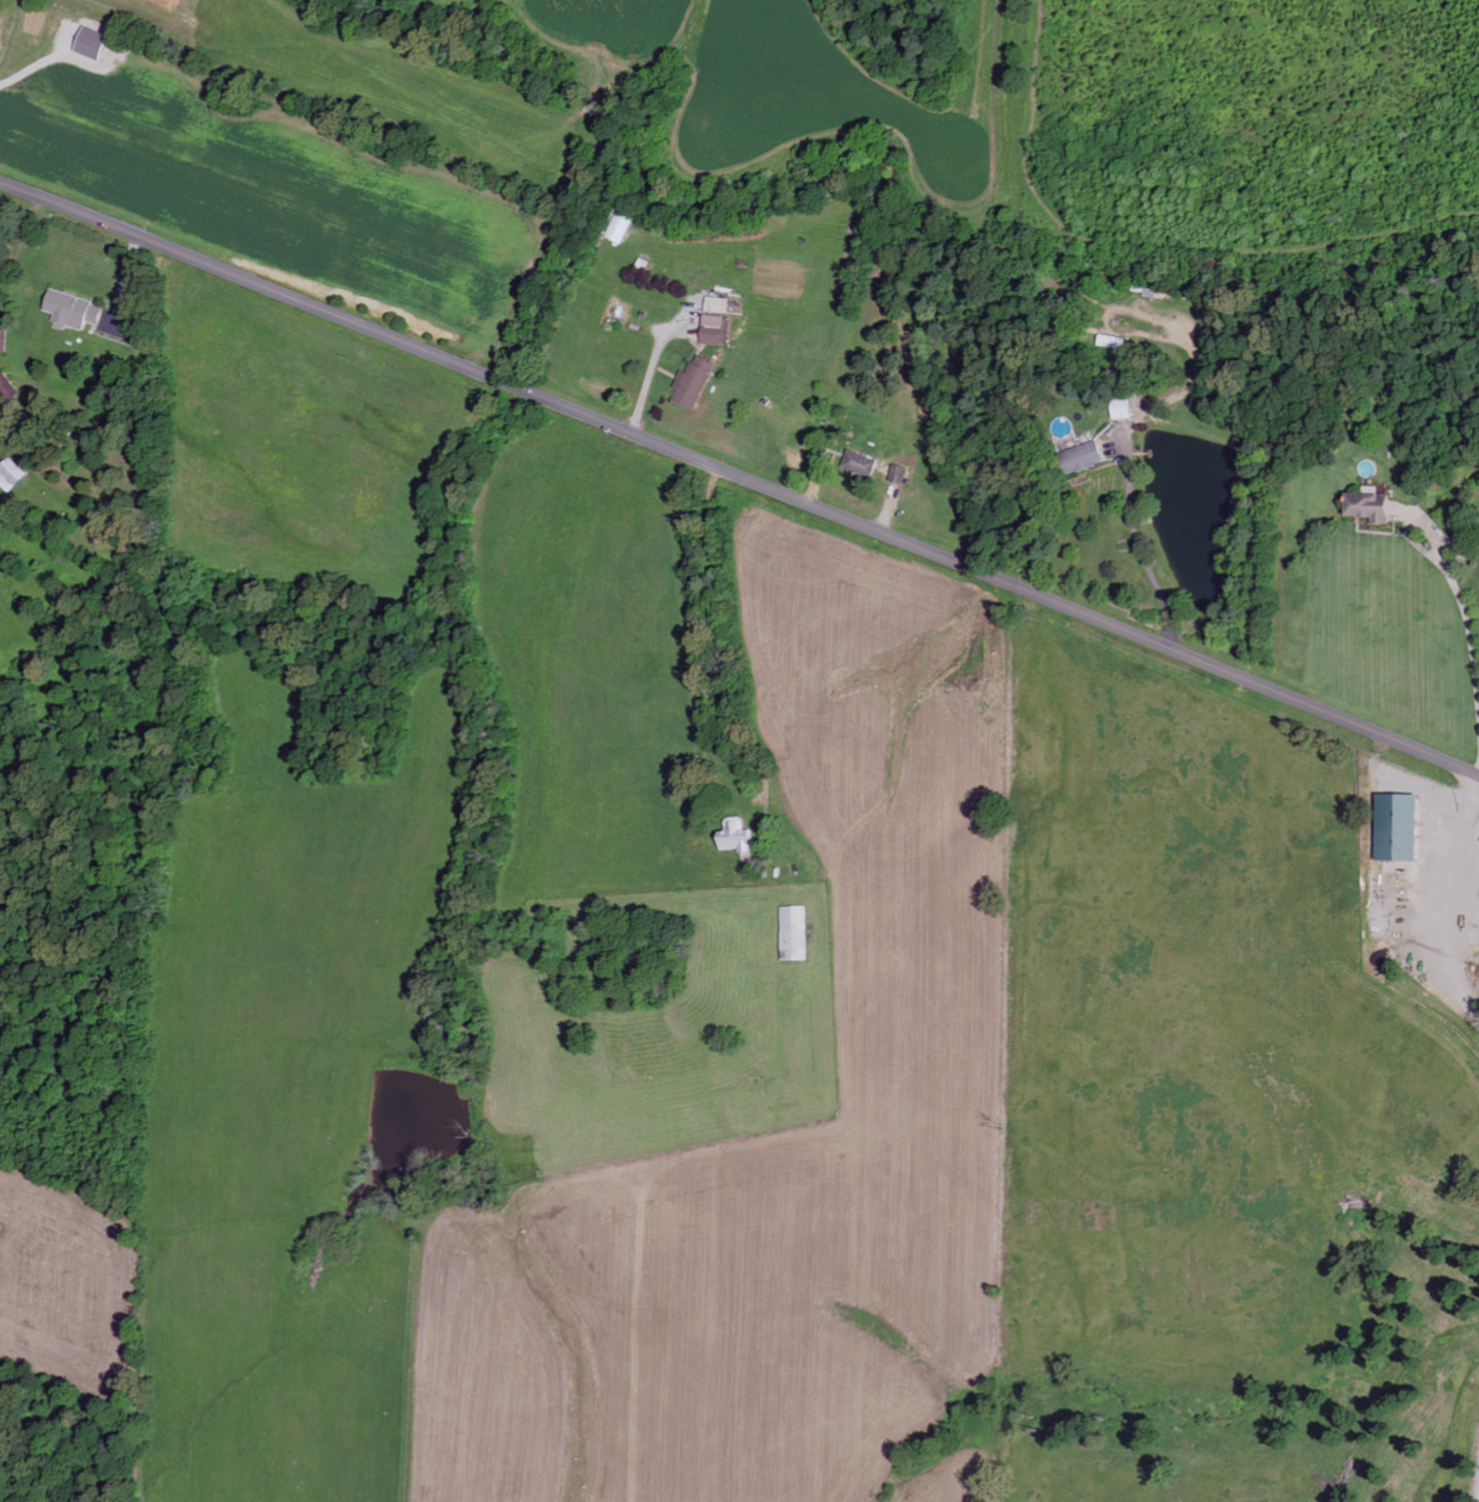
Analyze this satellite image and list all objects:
building: (91, 45)
building: (619, 229)
building: (715, 306)
building: (71, 312)
building: (114, 326)
building: (714, 331)
building: (2, 342)
building: (691, 384)
building: (7, 391)
building: (1122, 411)
building: (1082, 459)
building: (859, 465)
road: (739, 475)
building: (10, 476)
building: (897, 476)
building: (1369, 507)
road: (1419, 537)
road: (736, 597)
building: (1397, 828)
building: (735, 837)
building: (792, 934)
road: (1426, 939)
road: (1471, 1422)

